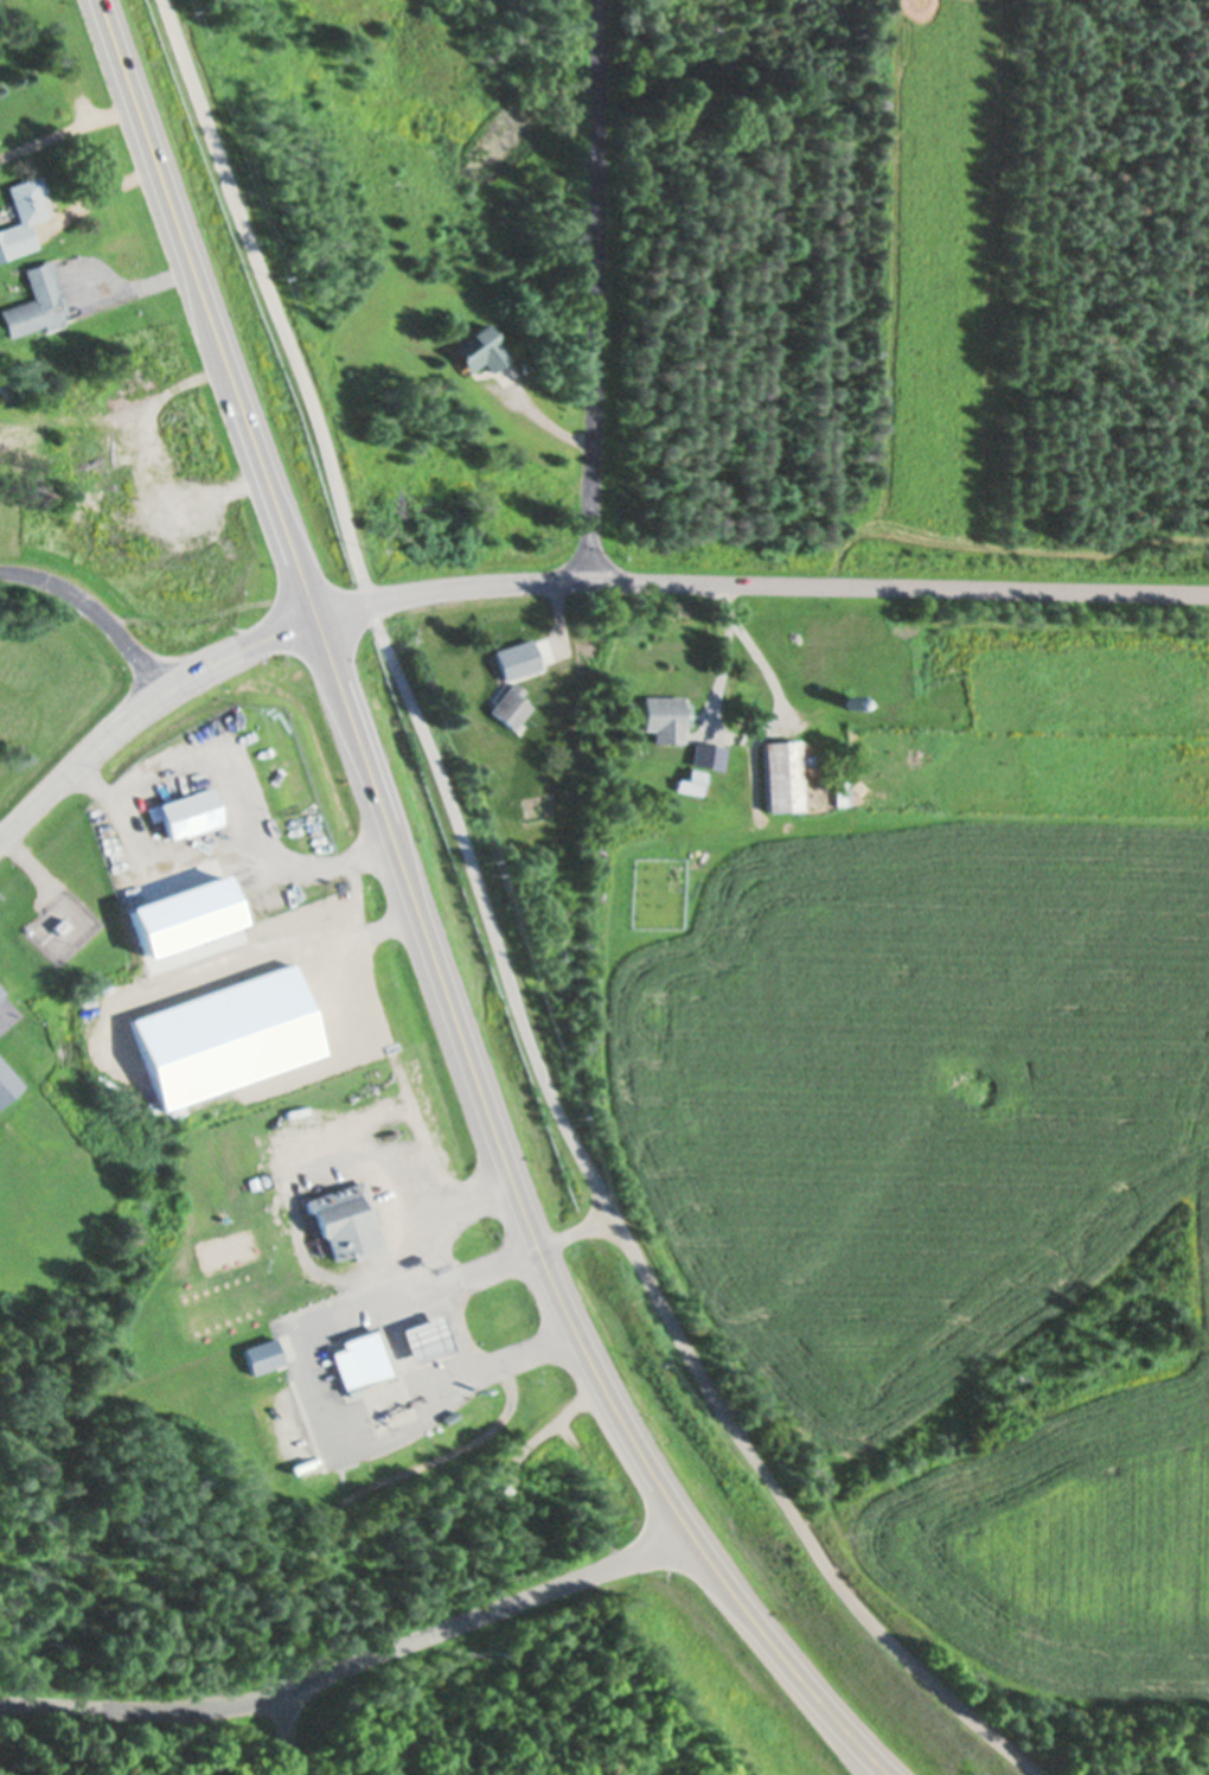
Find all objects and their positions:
building: (21, 216)
road: (588, 290)
building: (37, 302)
building: (476, 349)
road: (757, 585)
road: (92, 609)
building: (842, 651)
building: (858, 673)
building: (559, 701)
building: (850, 701)
road: (141, 703)
building: (507, 708)
building: (663, 717)
building: (706, 754)
building: (805, 756)
building: (780, 774)
building: (690, 781)
building: (840, 792)
building: (186, 812)
building: (497, 857)
building: (181, 914)
building: (59, 925)
road: (421, 925)
road: (495, 945)
building: (565, 951)
building: (1, 990)
building: (226, 1035)
building: (7, 1083)
building: (345, 1221)
road: (571, 1231)
building: (426, 1341)
building: (262, 1354)
building: (359, 1361)
building: (448, 1417)
road: (352, 1662)
road: (283, 1731)
building: (354, 1770)

